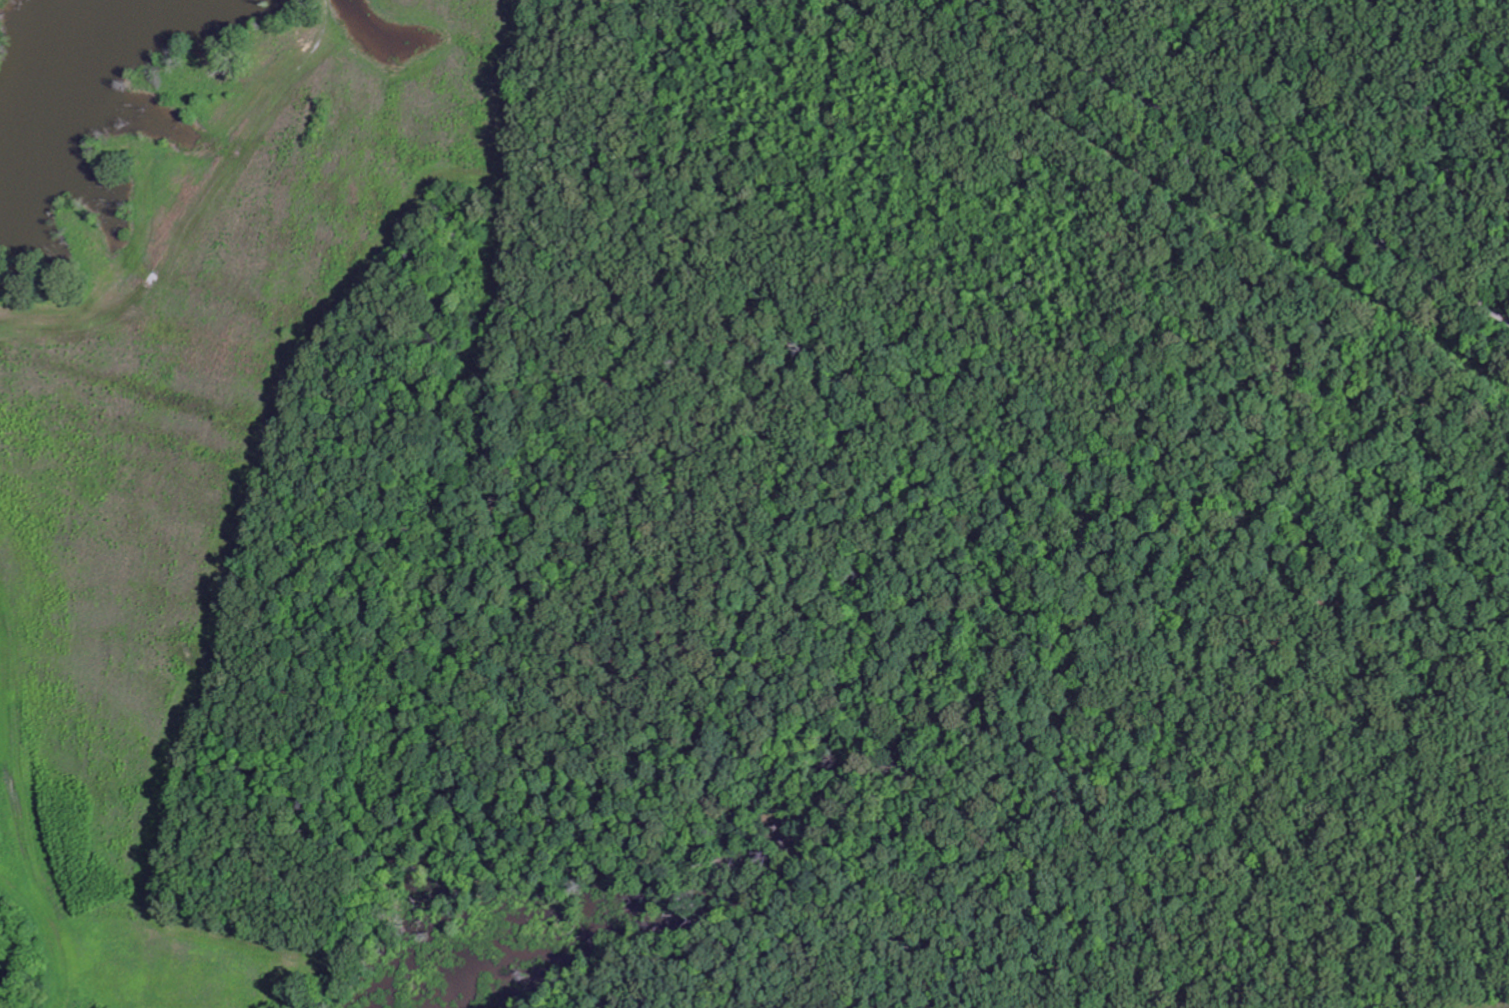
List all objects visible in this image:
road: (1213, 185)

